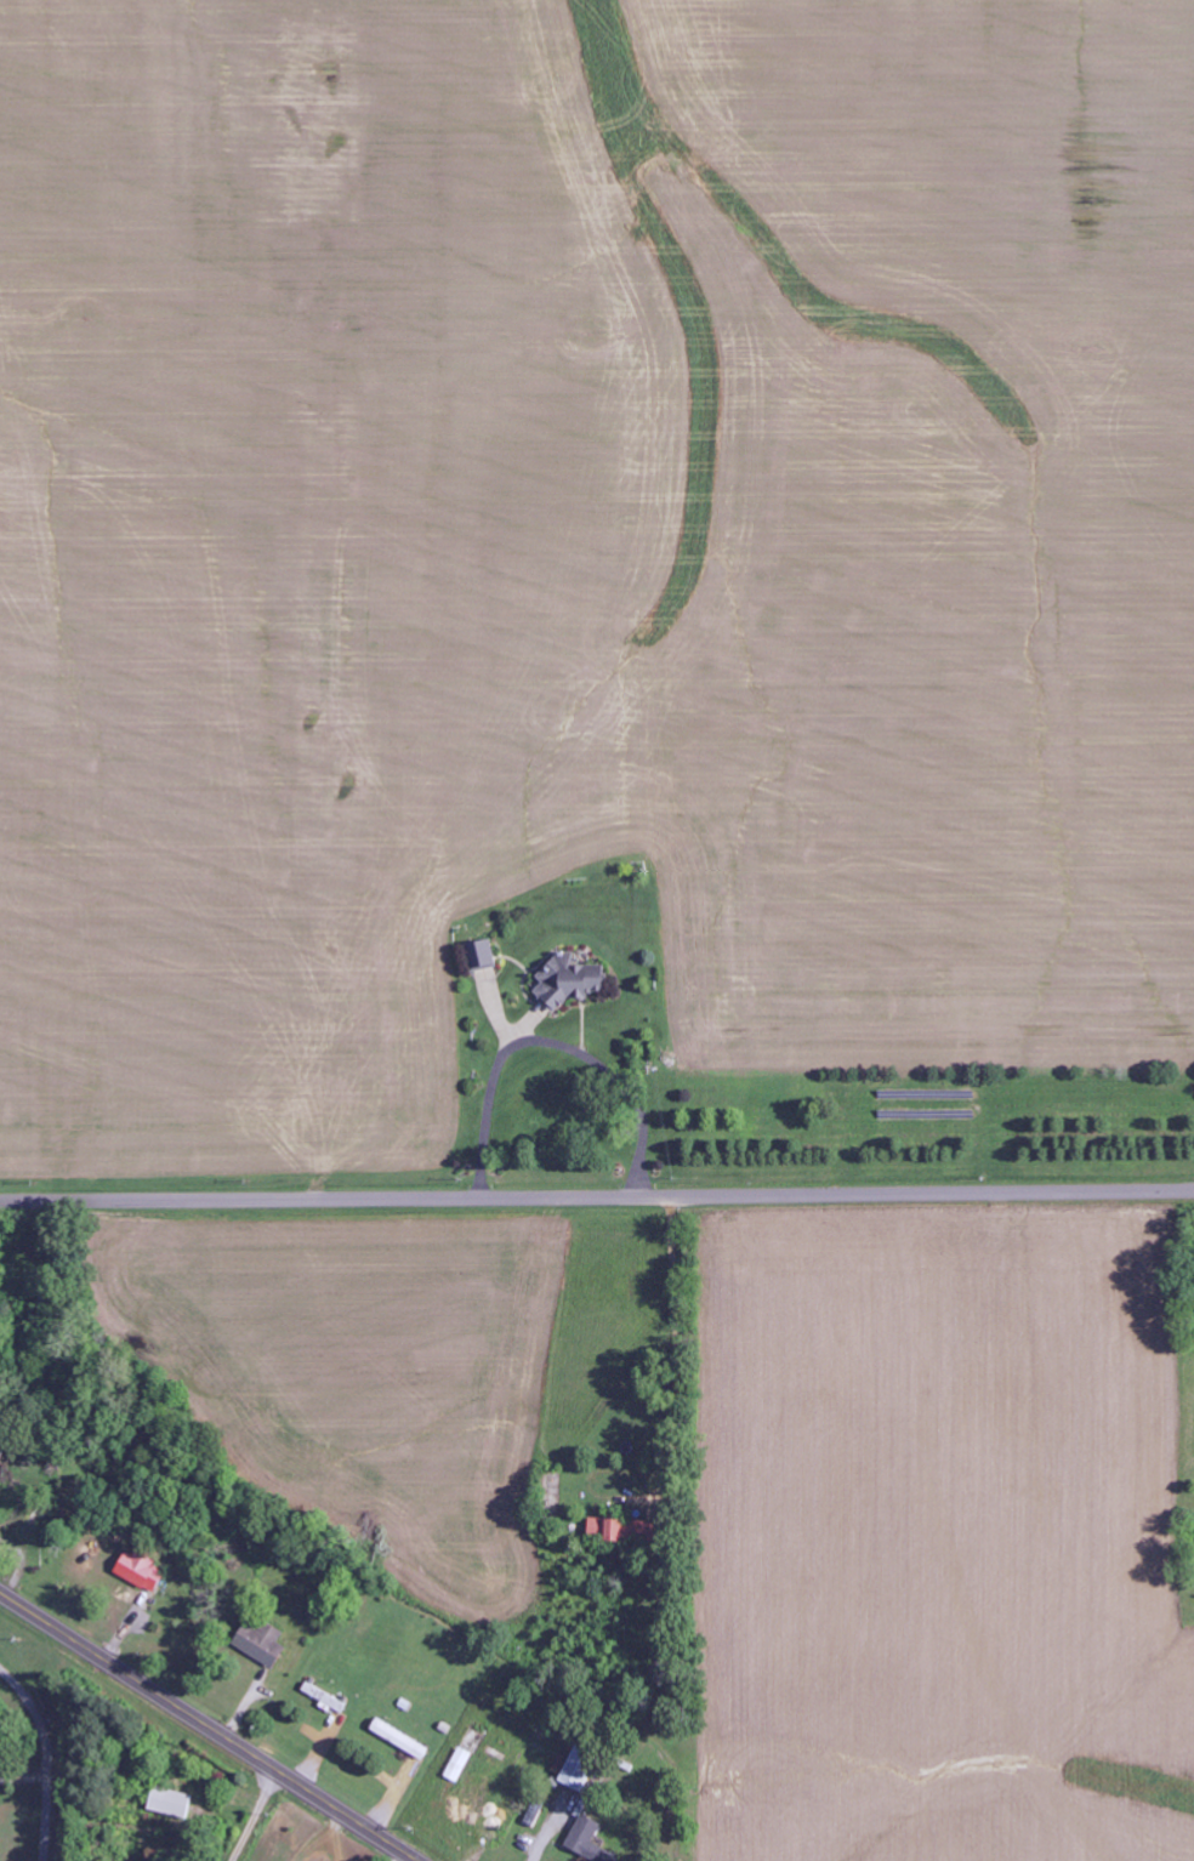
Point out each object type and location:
building: (482, 955)
building: (570, 981)
road: (597, 1196)
building: (625, 1530)
building: (262, 1643)
building: (335, 1705)
road: (209, 1725)
building: (400, 1740)
building: (460, 1764)
building: (576, 1768)
building: (171, 1803)
building: (589, 1840)

